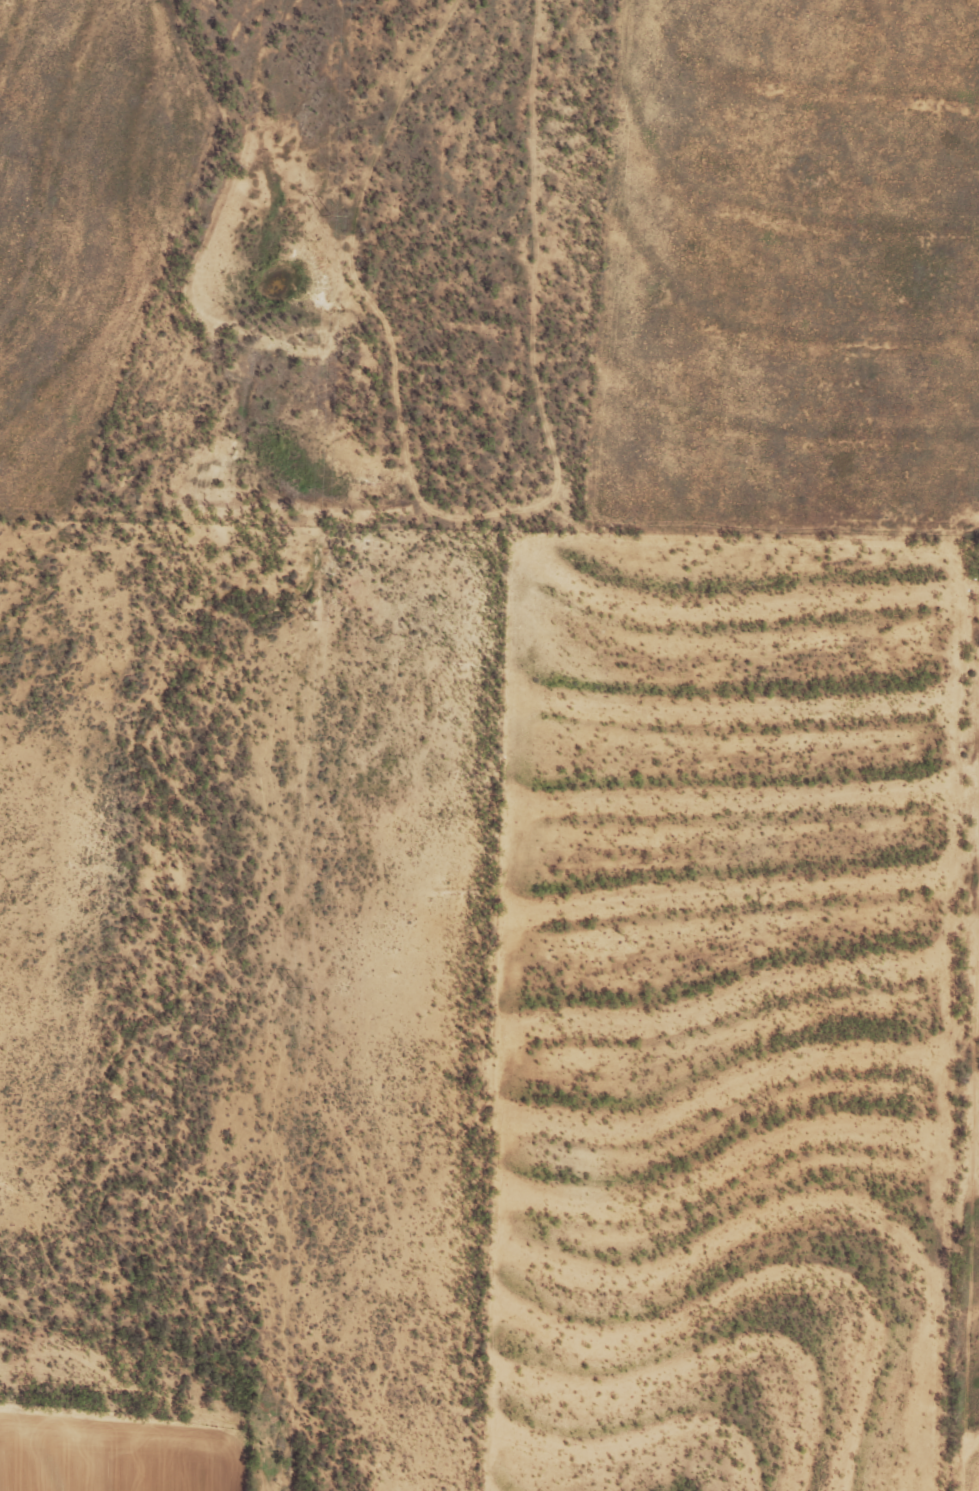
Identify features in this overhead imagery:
power tower: (326, 215)
power tower: (296, 619)
power tower: (290, 989)
power tower: (277, 1377)

